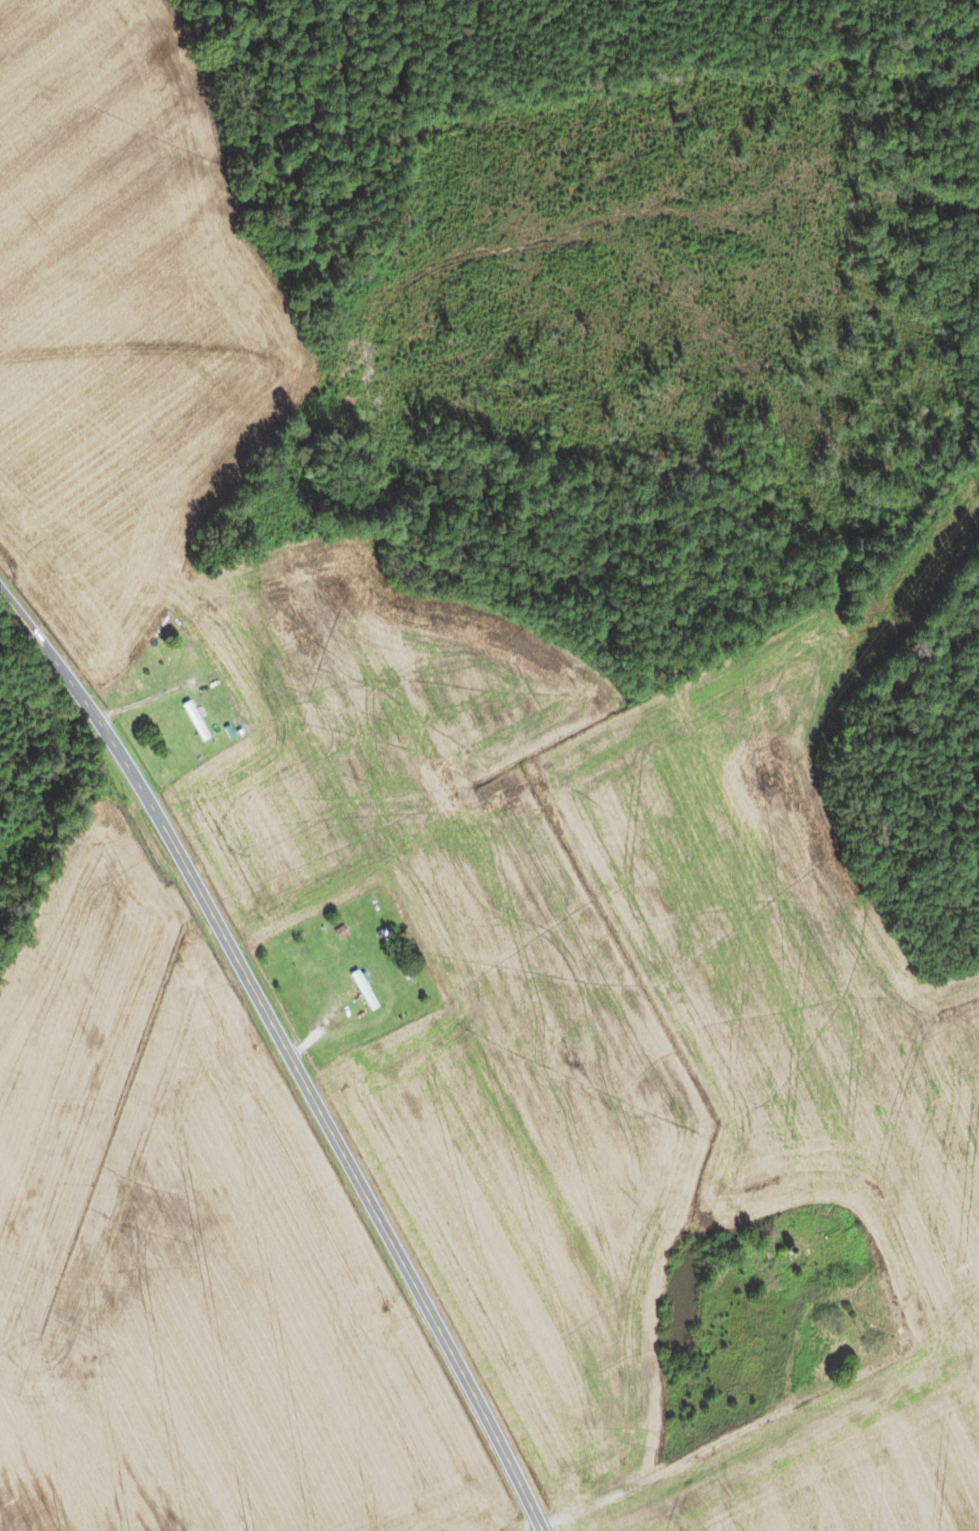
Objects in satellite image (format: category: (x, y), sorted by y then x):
building: (357, 990)
road: (287, 1049)
building: (866, 1319)

